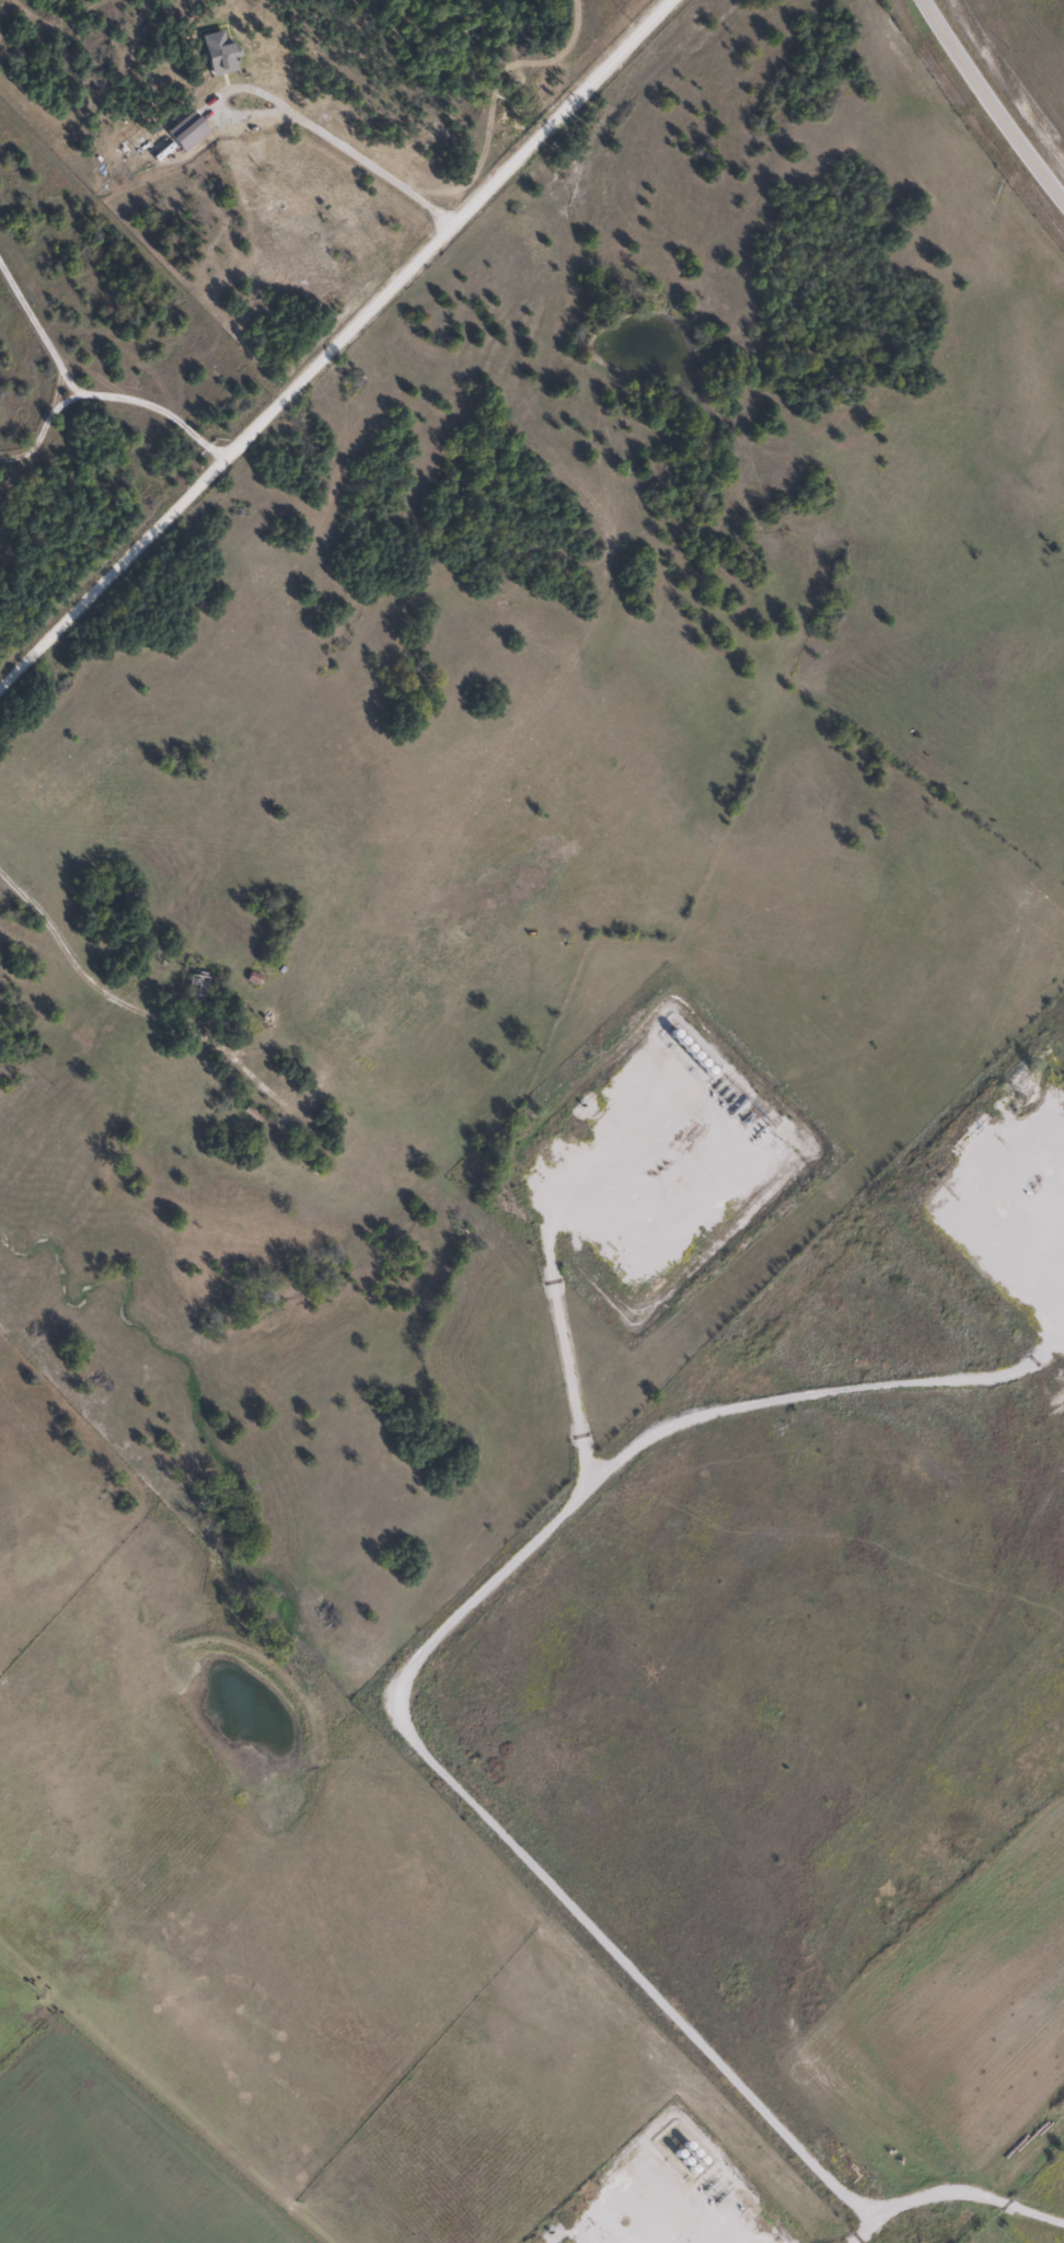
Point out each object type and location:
road: (990, 103)
road: (329, 341)
building: (196, 985)
road: (555, 1265)
road: (502, 1596)
road: (962, 2186)

